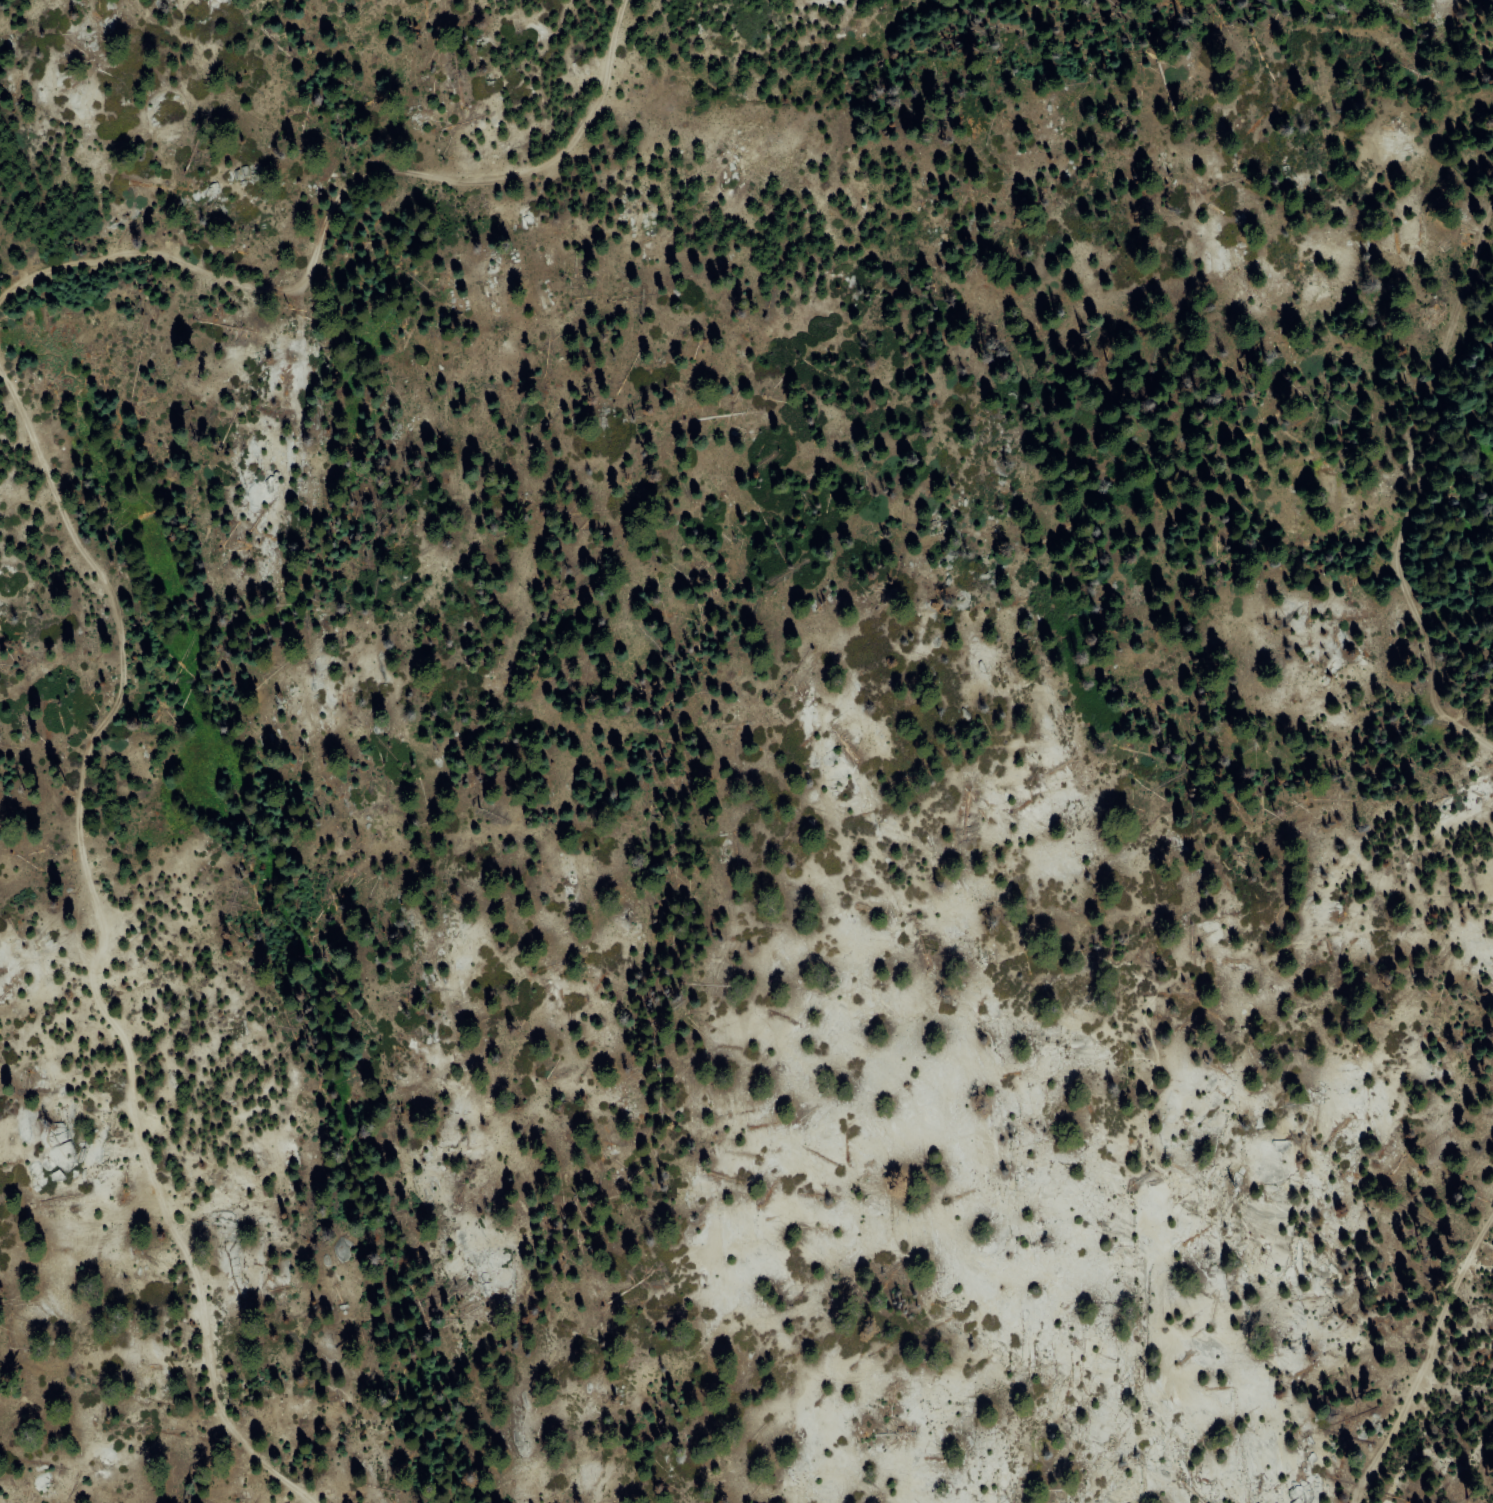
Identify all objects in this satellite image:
road: (335, 203)
road: (99, 951)

